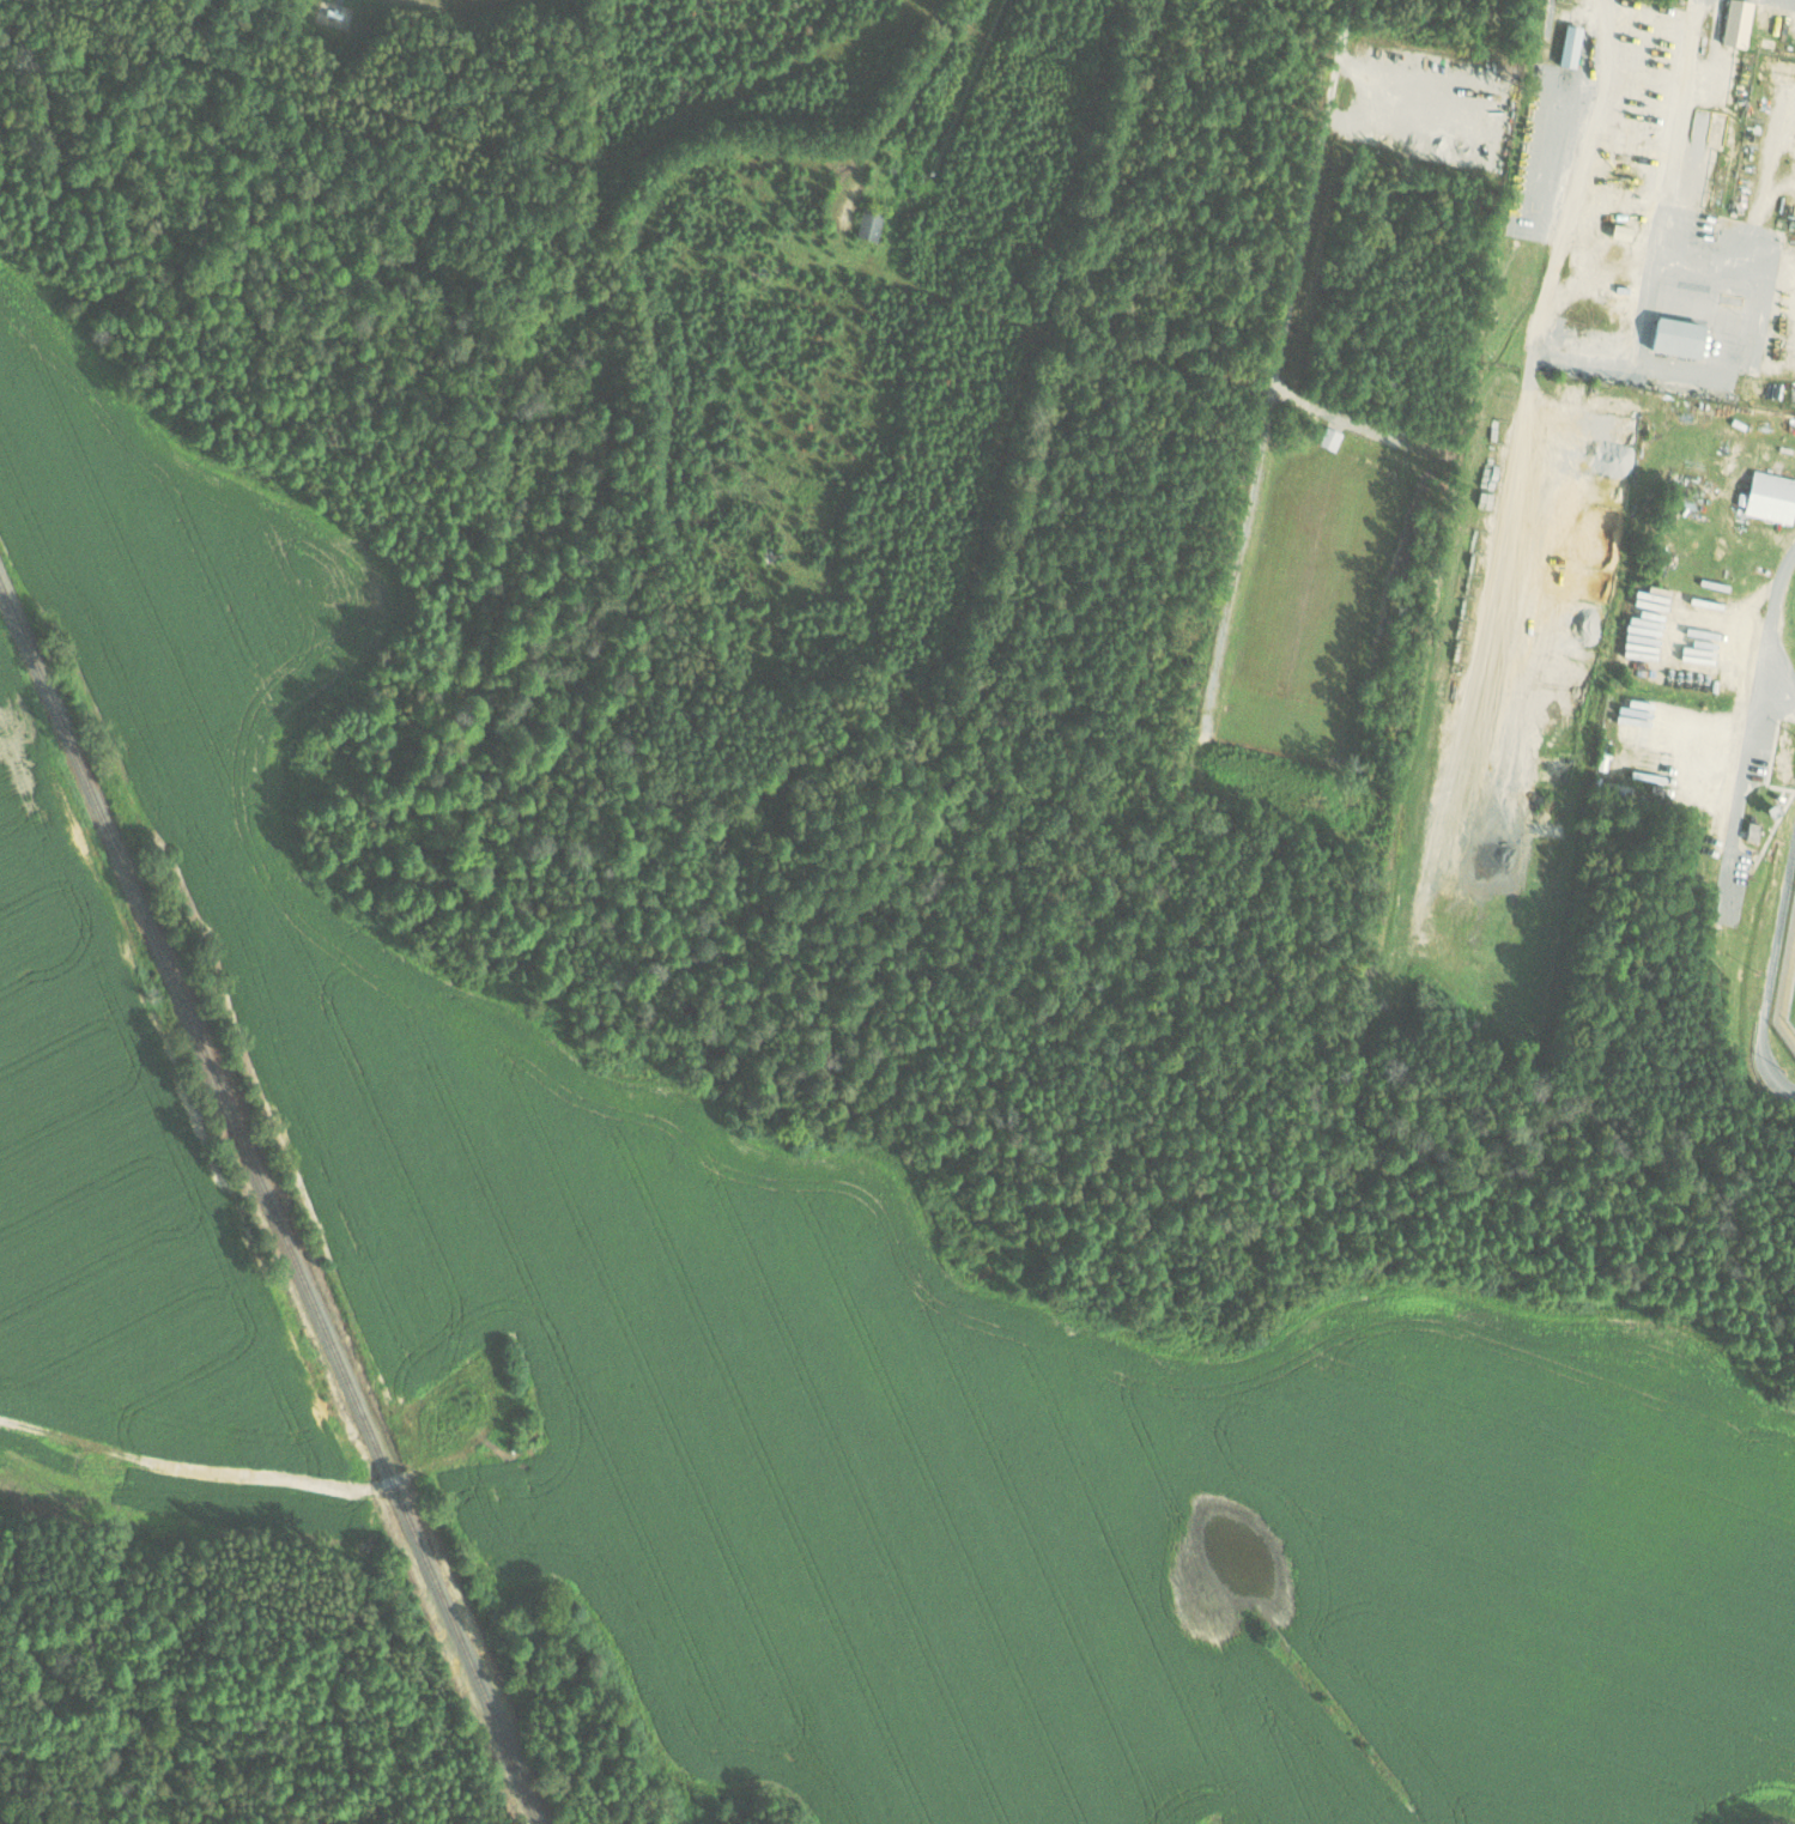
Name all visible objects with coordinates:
building: (1738, 23)
building: (1571, 46)
building: (871, 224)
building: (1680, 337)
building: (1330, 438)
building: (1772, 497)
road: (1749, 697)
building: (1754, 831)
railway: (269, 1202)
road: (213, 1468)

